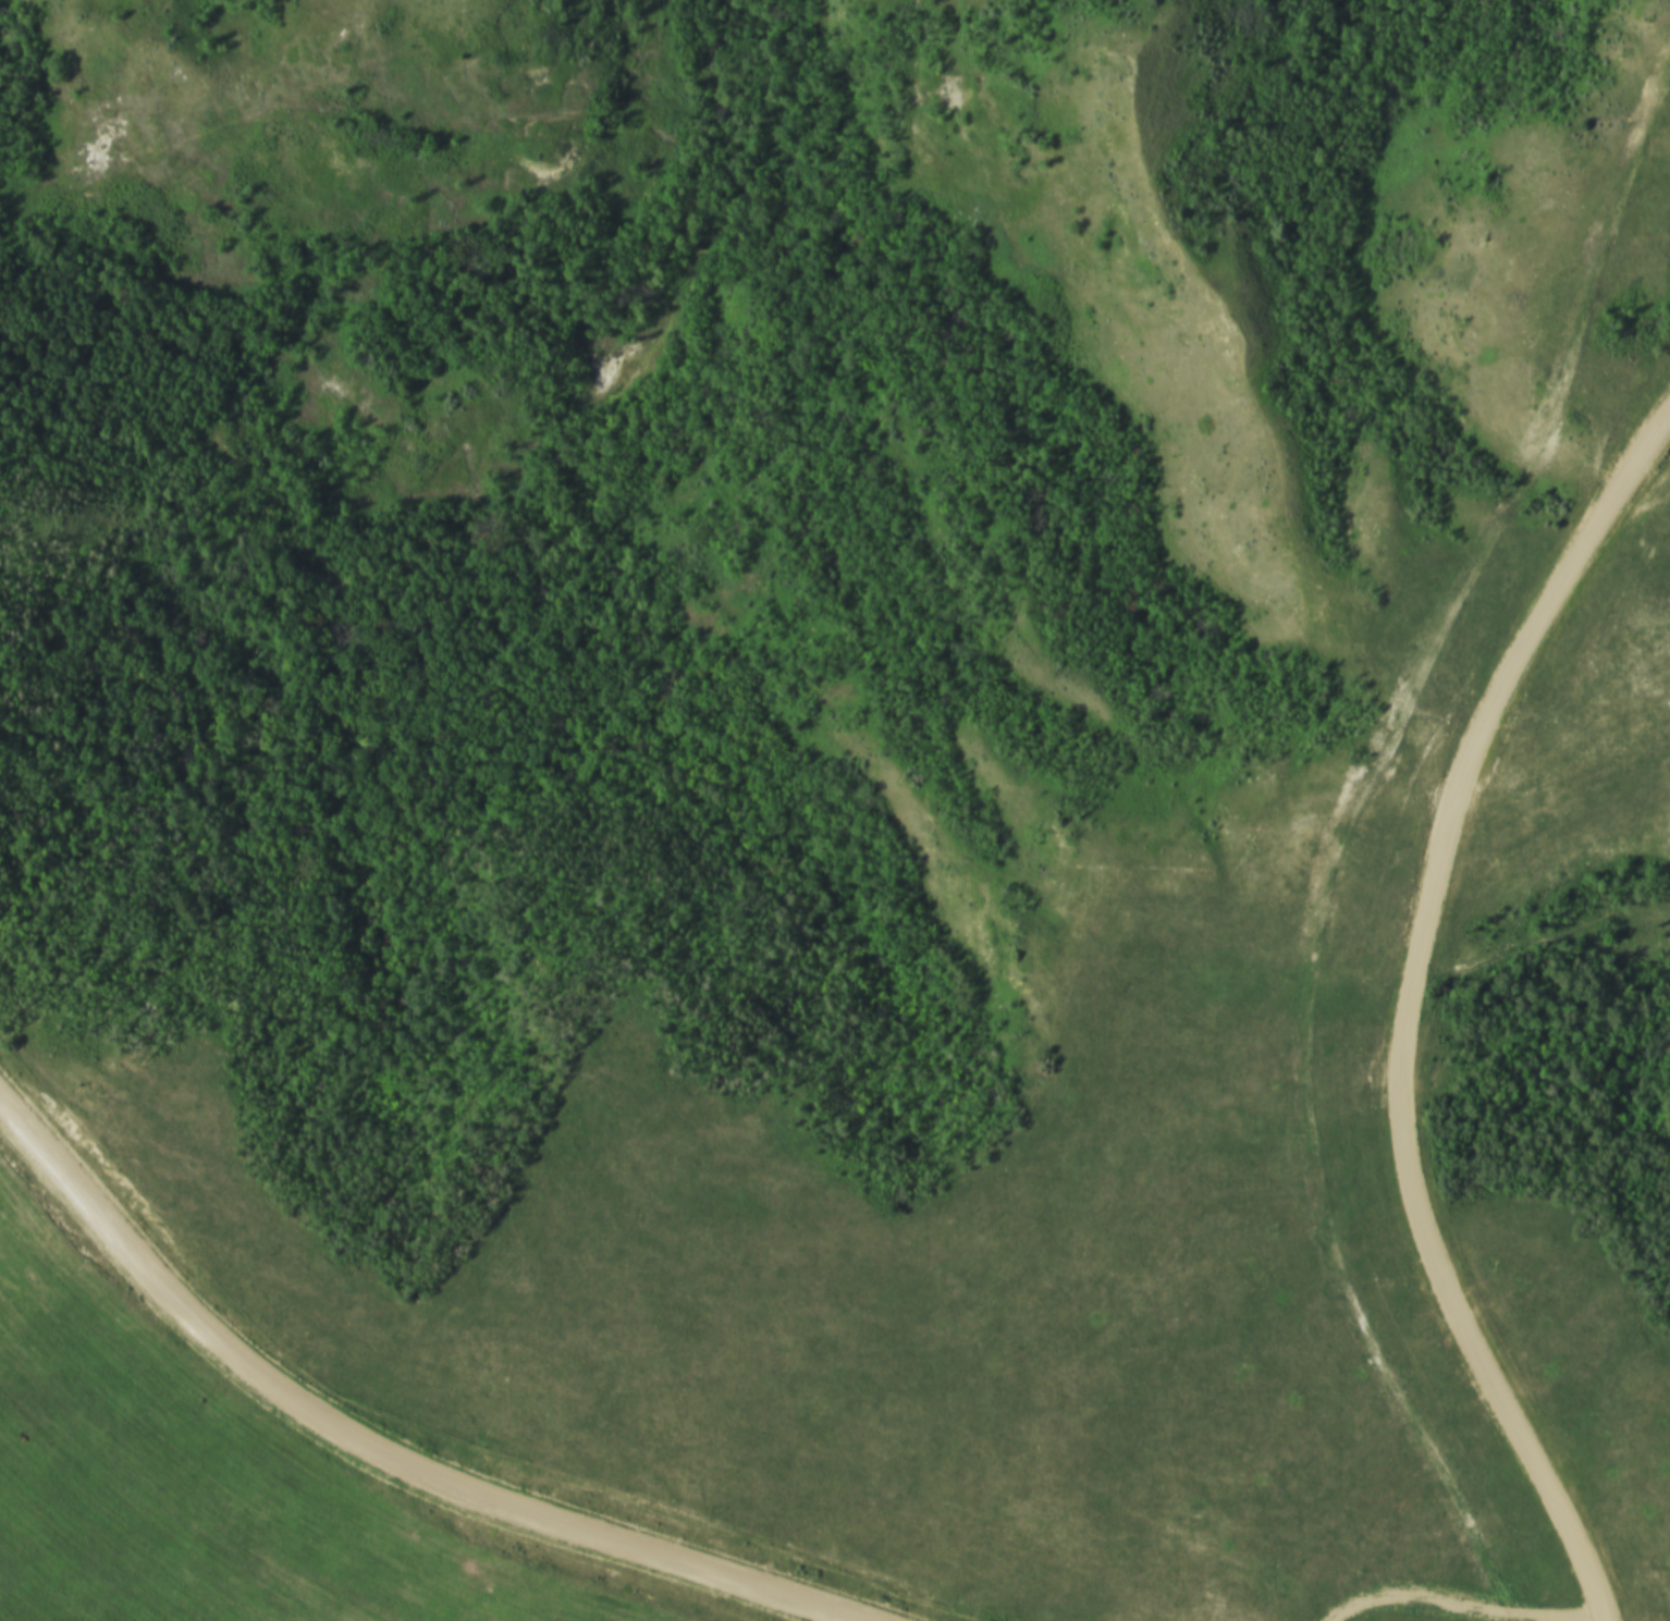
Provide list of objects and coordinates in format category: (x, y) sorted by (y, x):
road: (1405, 1009)
road: (366, 1450)

